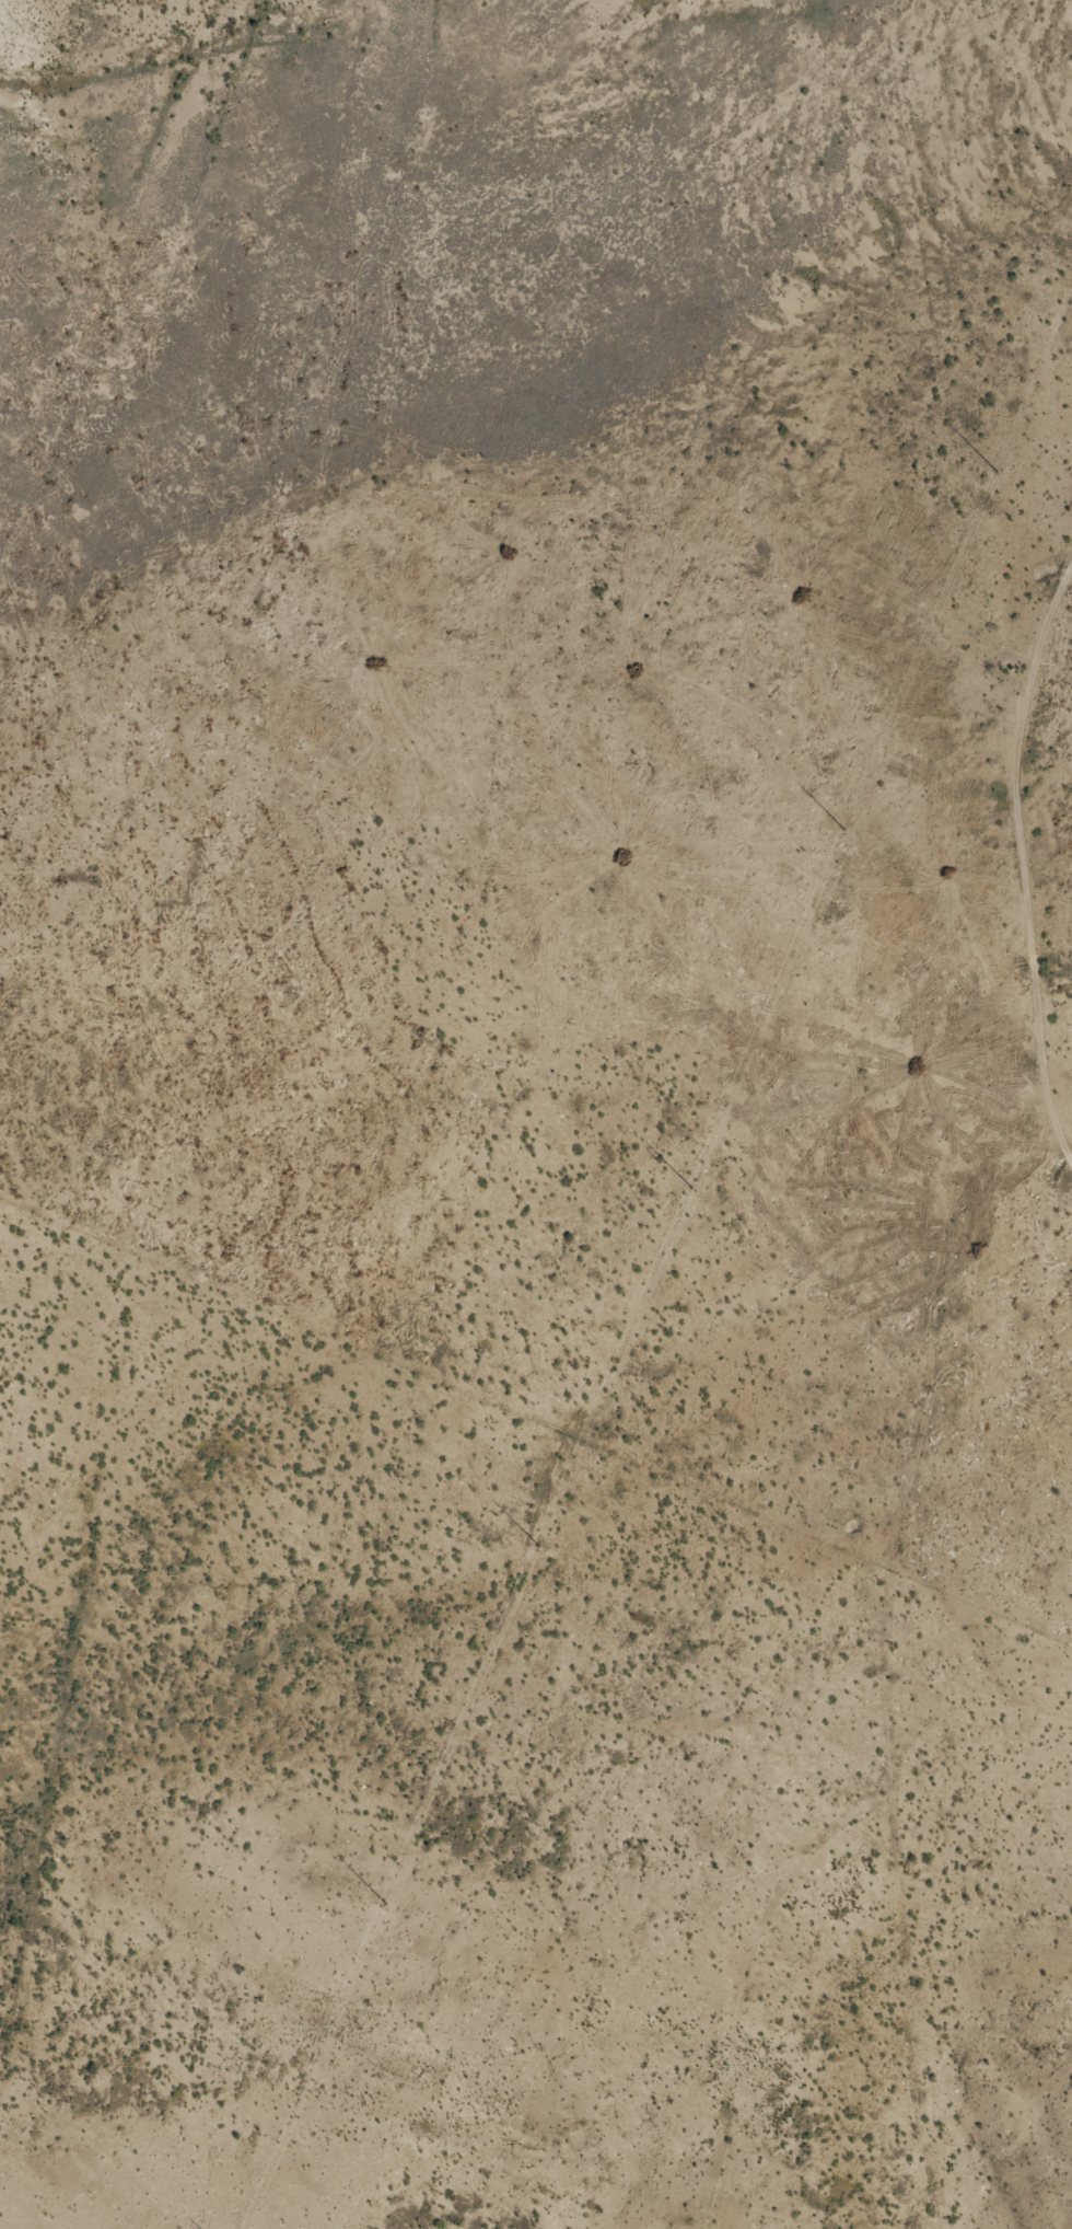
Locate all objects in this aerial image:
power tower: (995, 471)
power tower: (842, 830)
power tower: (690, 1188)
road: (917, 1406)
power tower: (537, 1547)
power tower: (384, 1903)
road: (920, 2013)

